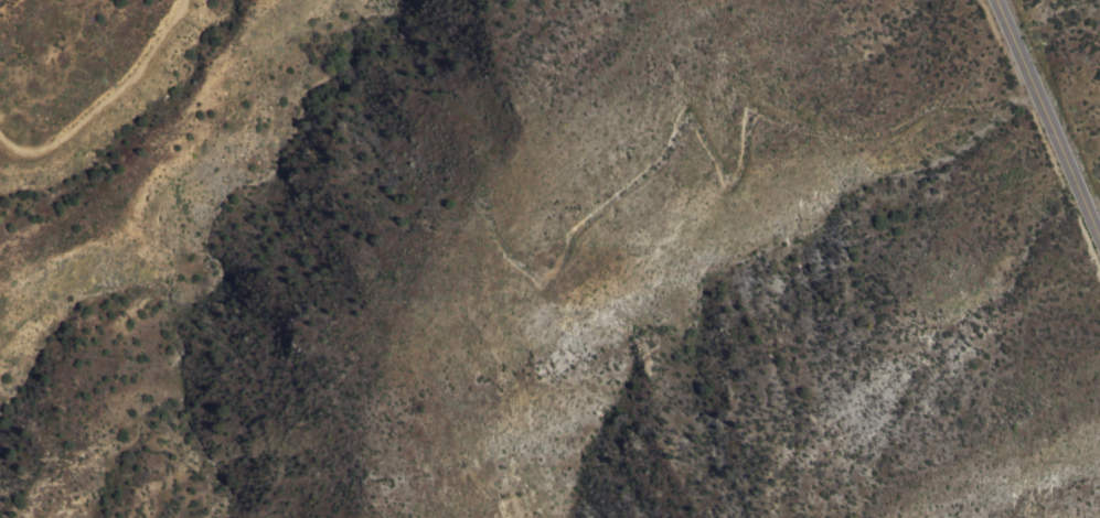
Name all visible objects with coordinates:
road: (1051, 110)

